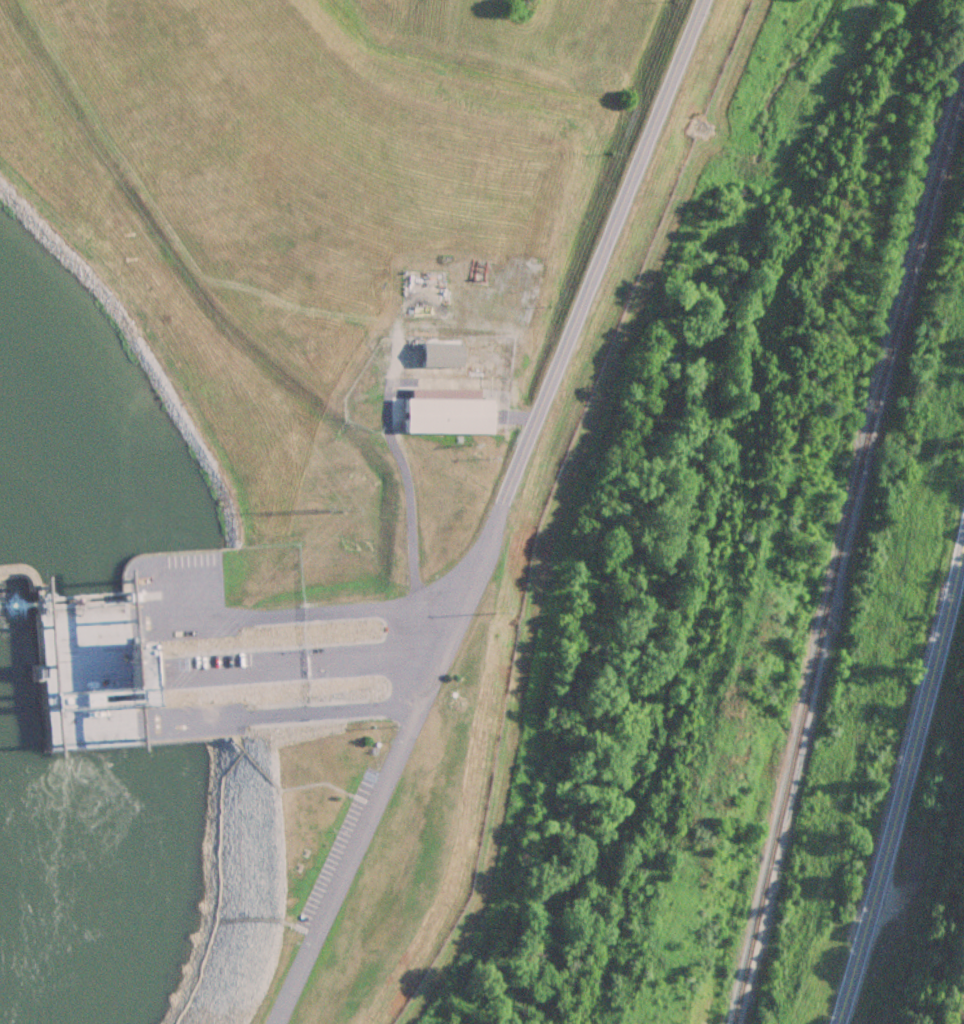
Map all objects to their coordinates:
power tower: (333, 512)
road: (507, 515)
railway: (838, 565)
dam: (21, 568)
road: (305, 668)
road: (902, 783)

